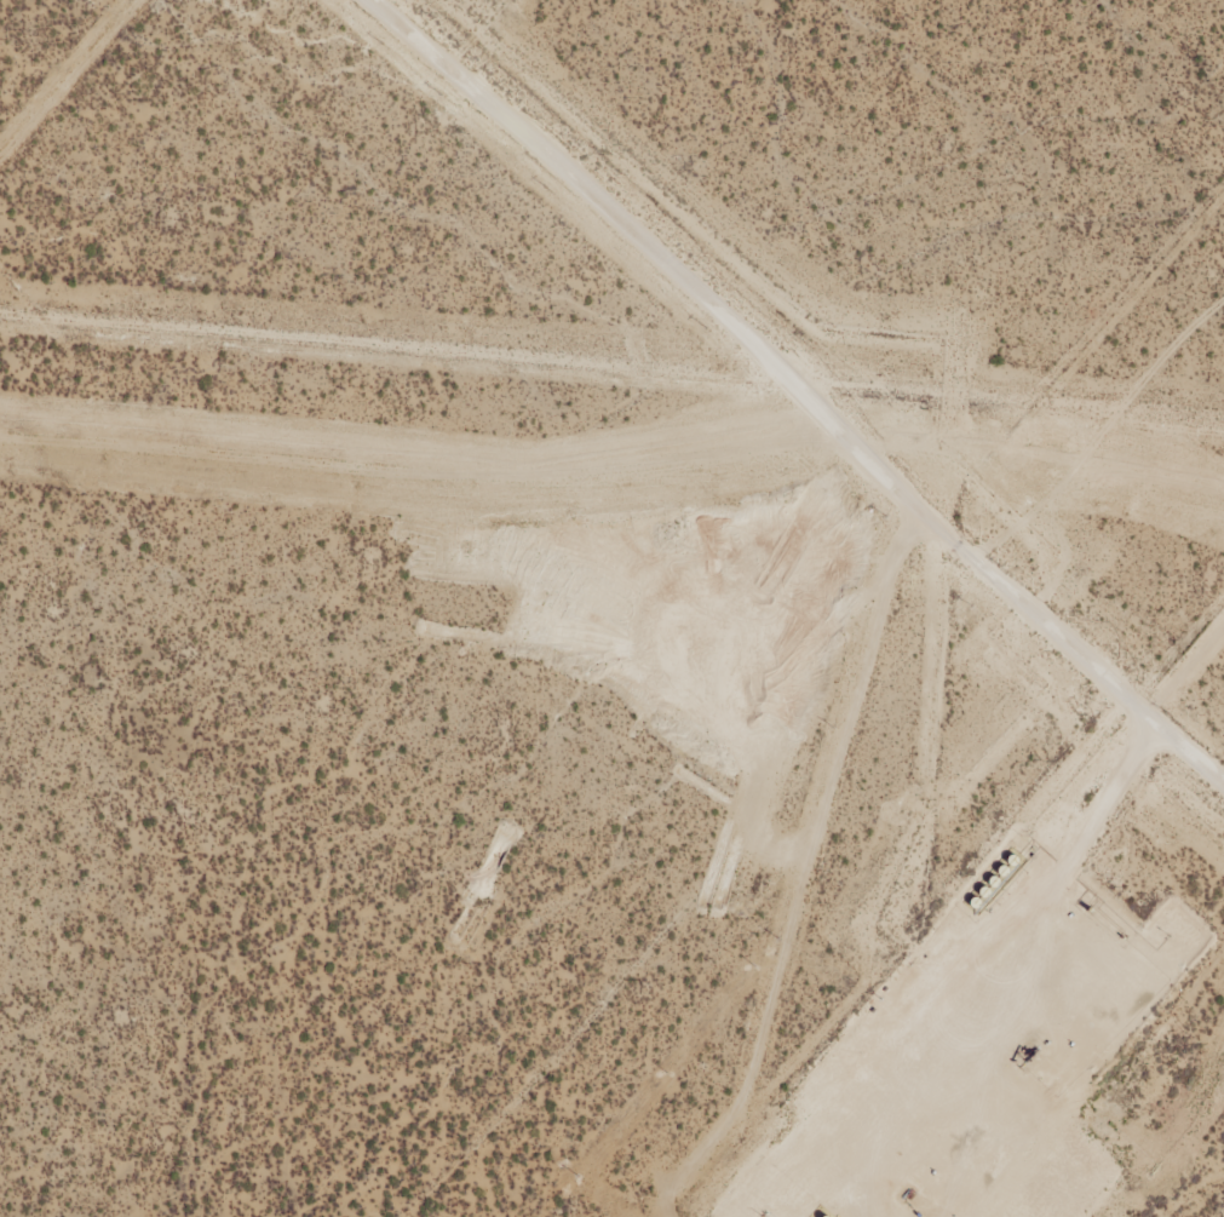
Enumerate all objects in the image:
road: (838, 289)
road: (794, 390)
road: (1092, 424)
road: (840, 685)
road: (1094, 815)

